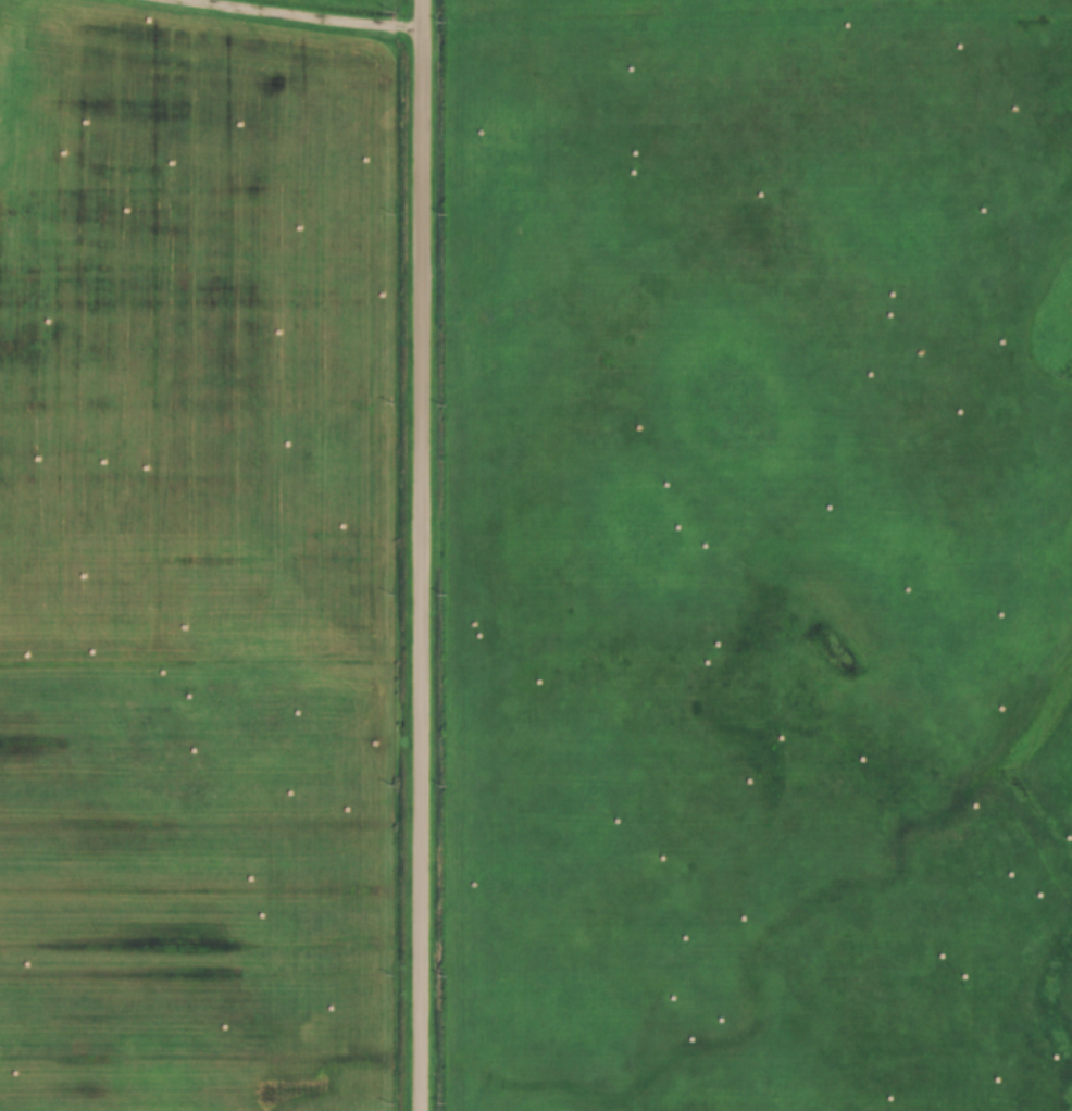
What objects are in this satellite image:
road: (275, 20)
road: (421, 554)

